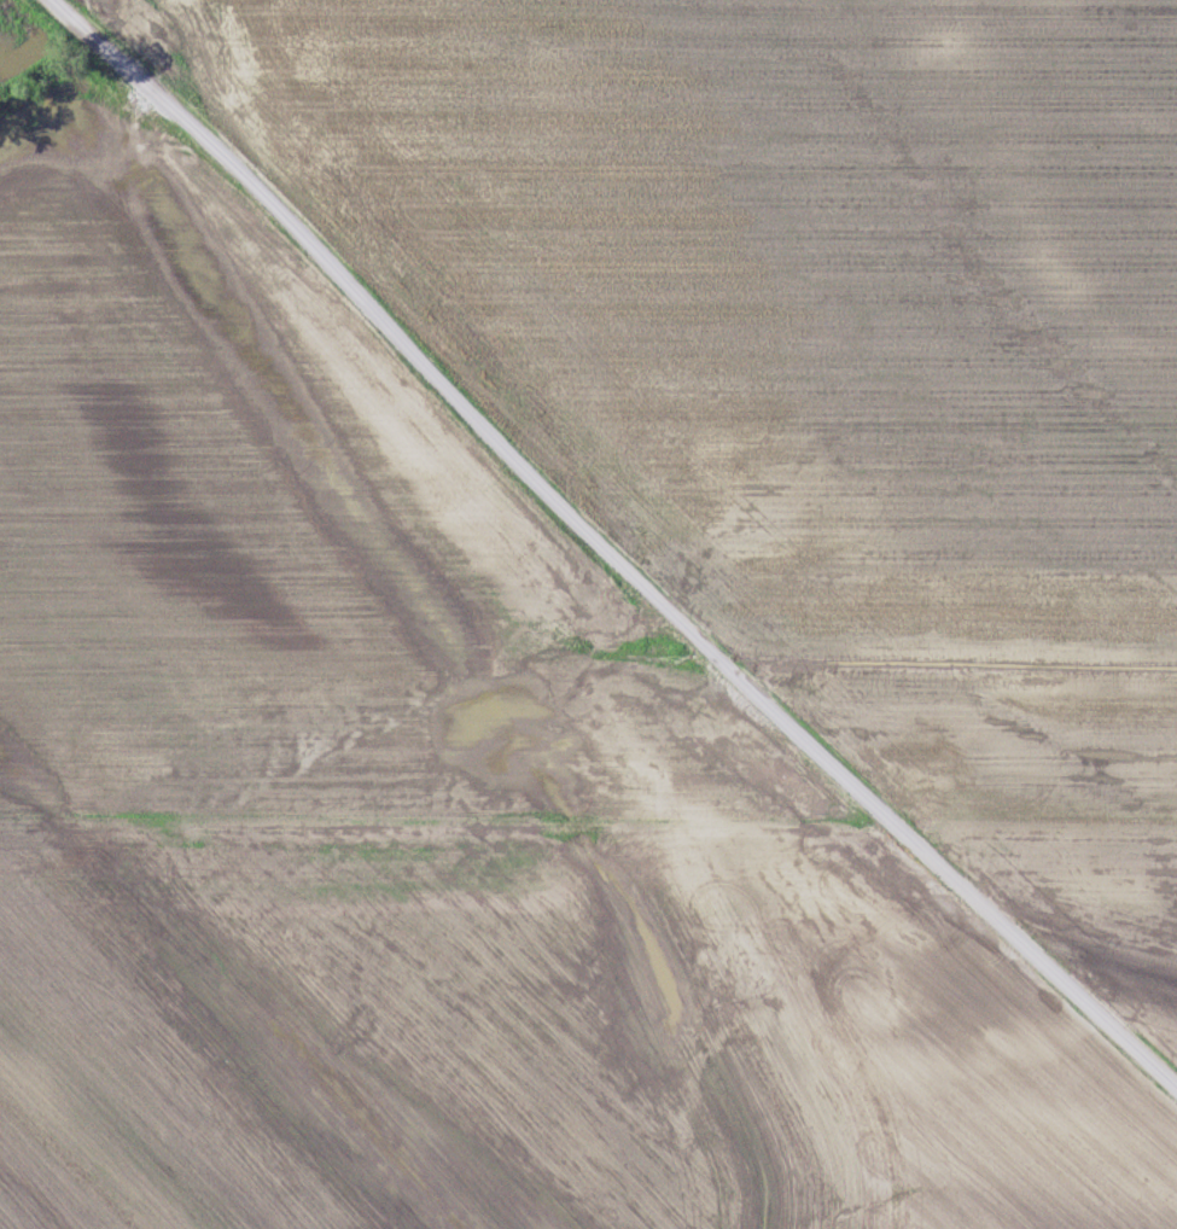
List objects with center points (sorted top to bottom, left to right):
road: (470, 406)
road: (1031, 955)

